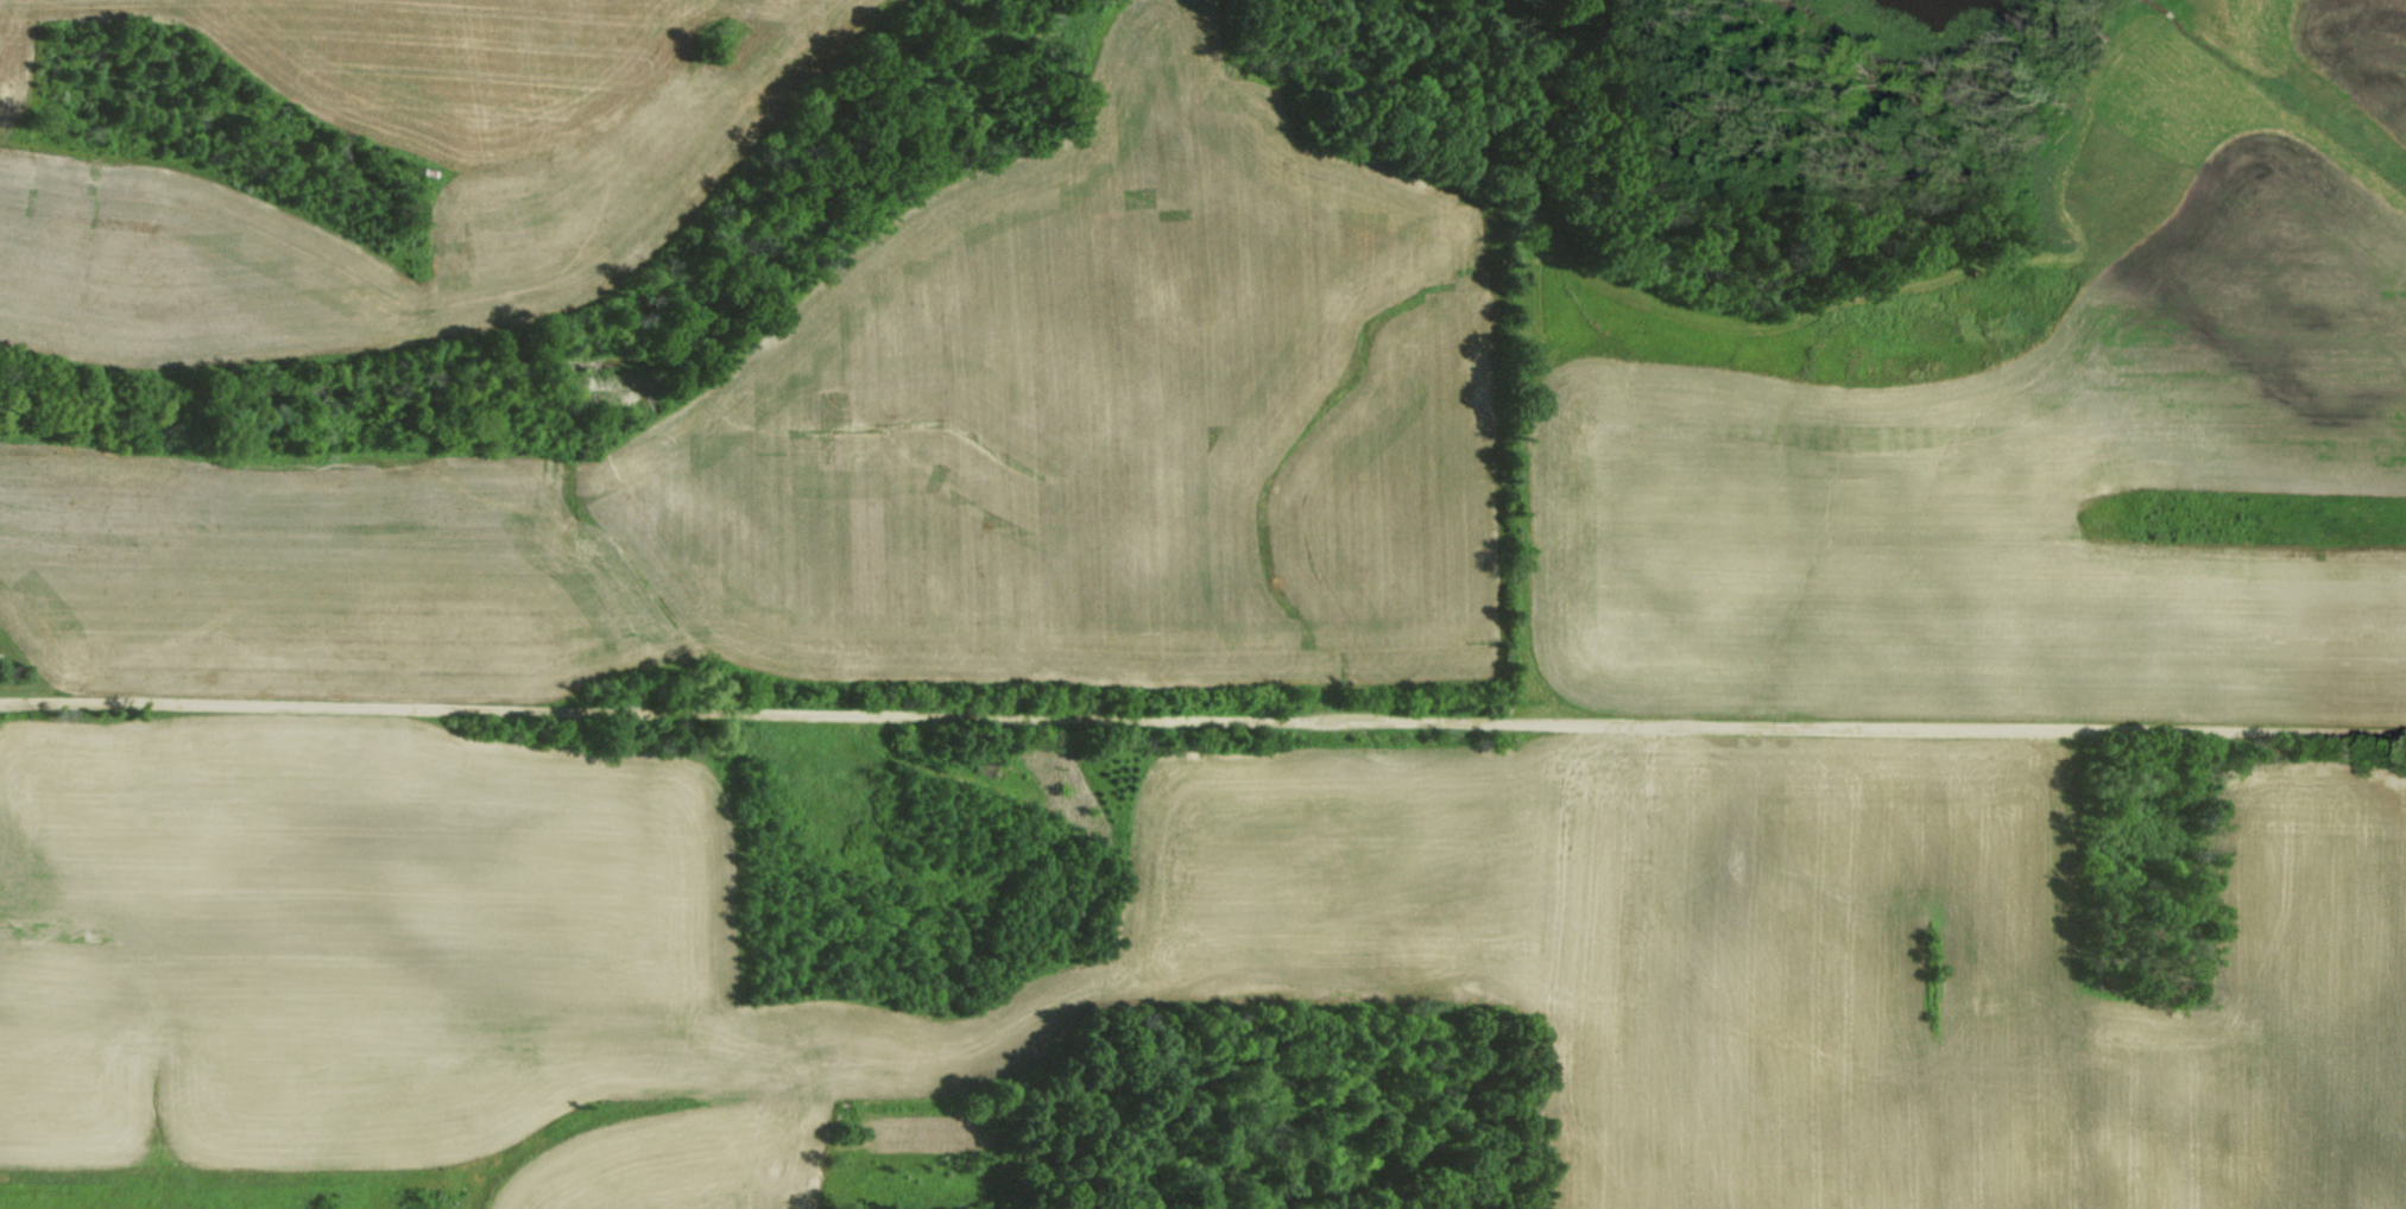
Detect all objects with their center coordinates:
road: (1202, 720)

